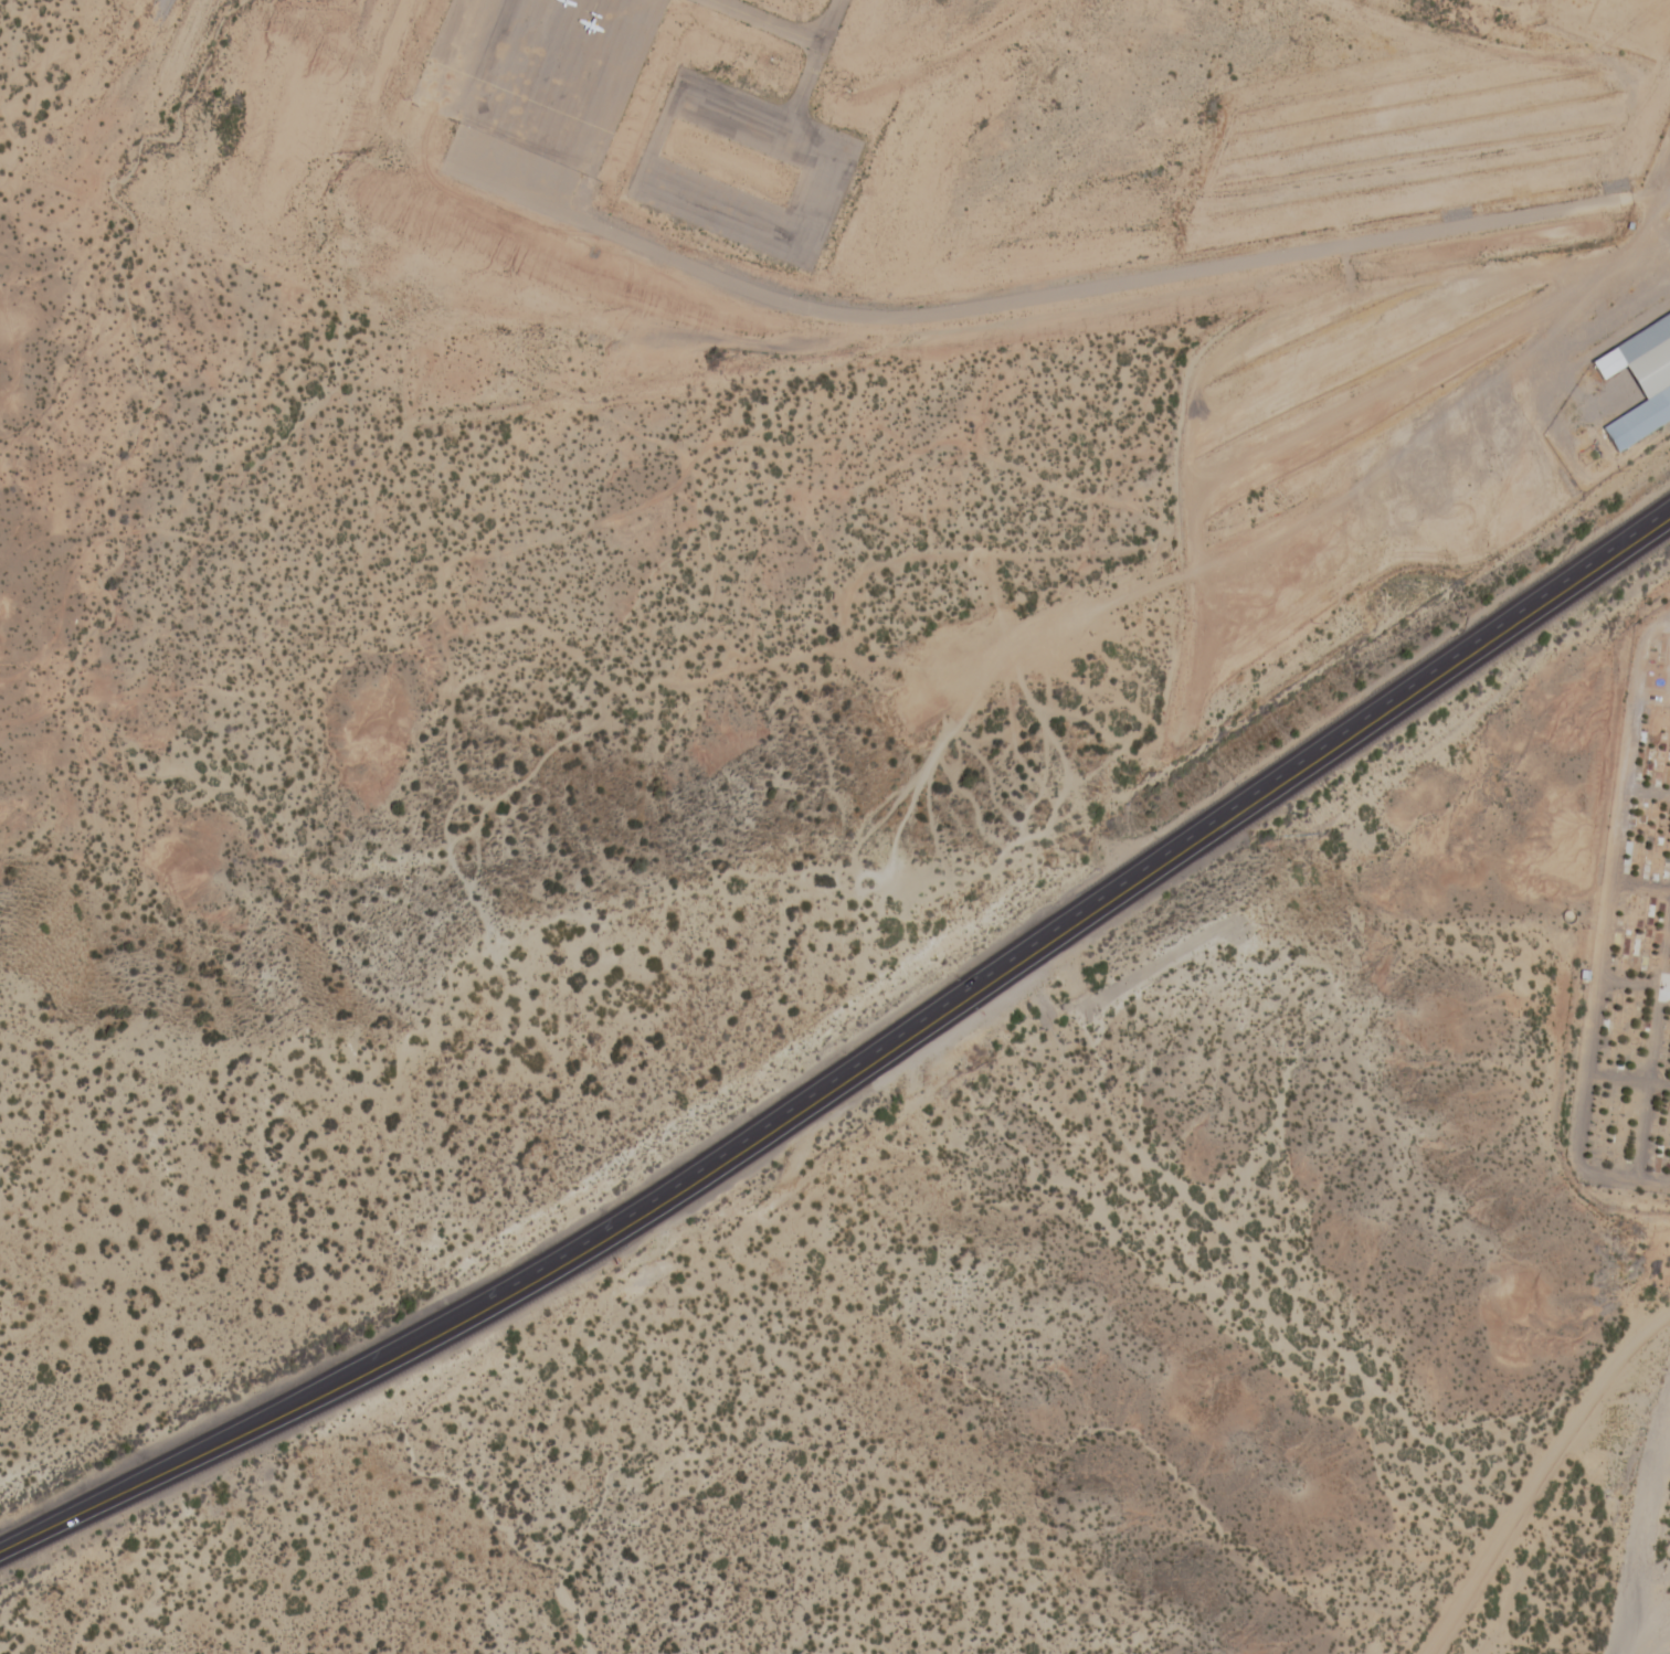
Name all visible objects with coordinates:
airport taxiway: (789, 25)
airport taxiway: (800, 91)
airport: (823, 156)
building: (1641, 380)
park: (1628, 969)
road: (858, 1063)
road: (1532, 1475)
river: (1662, 1631)

